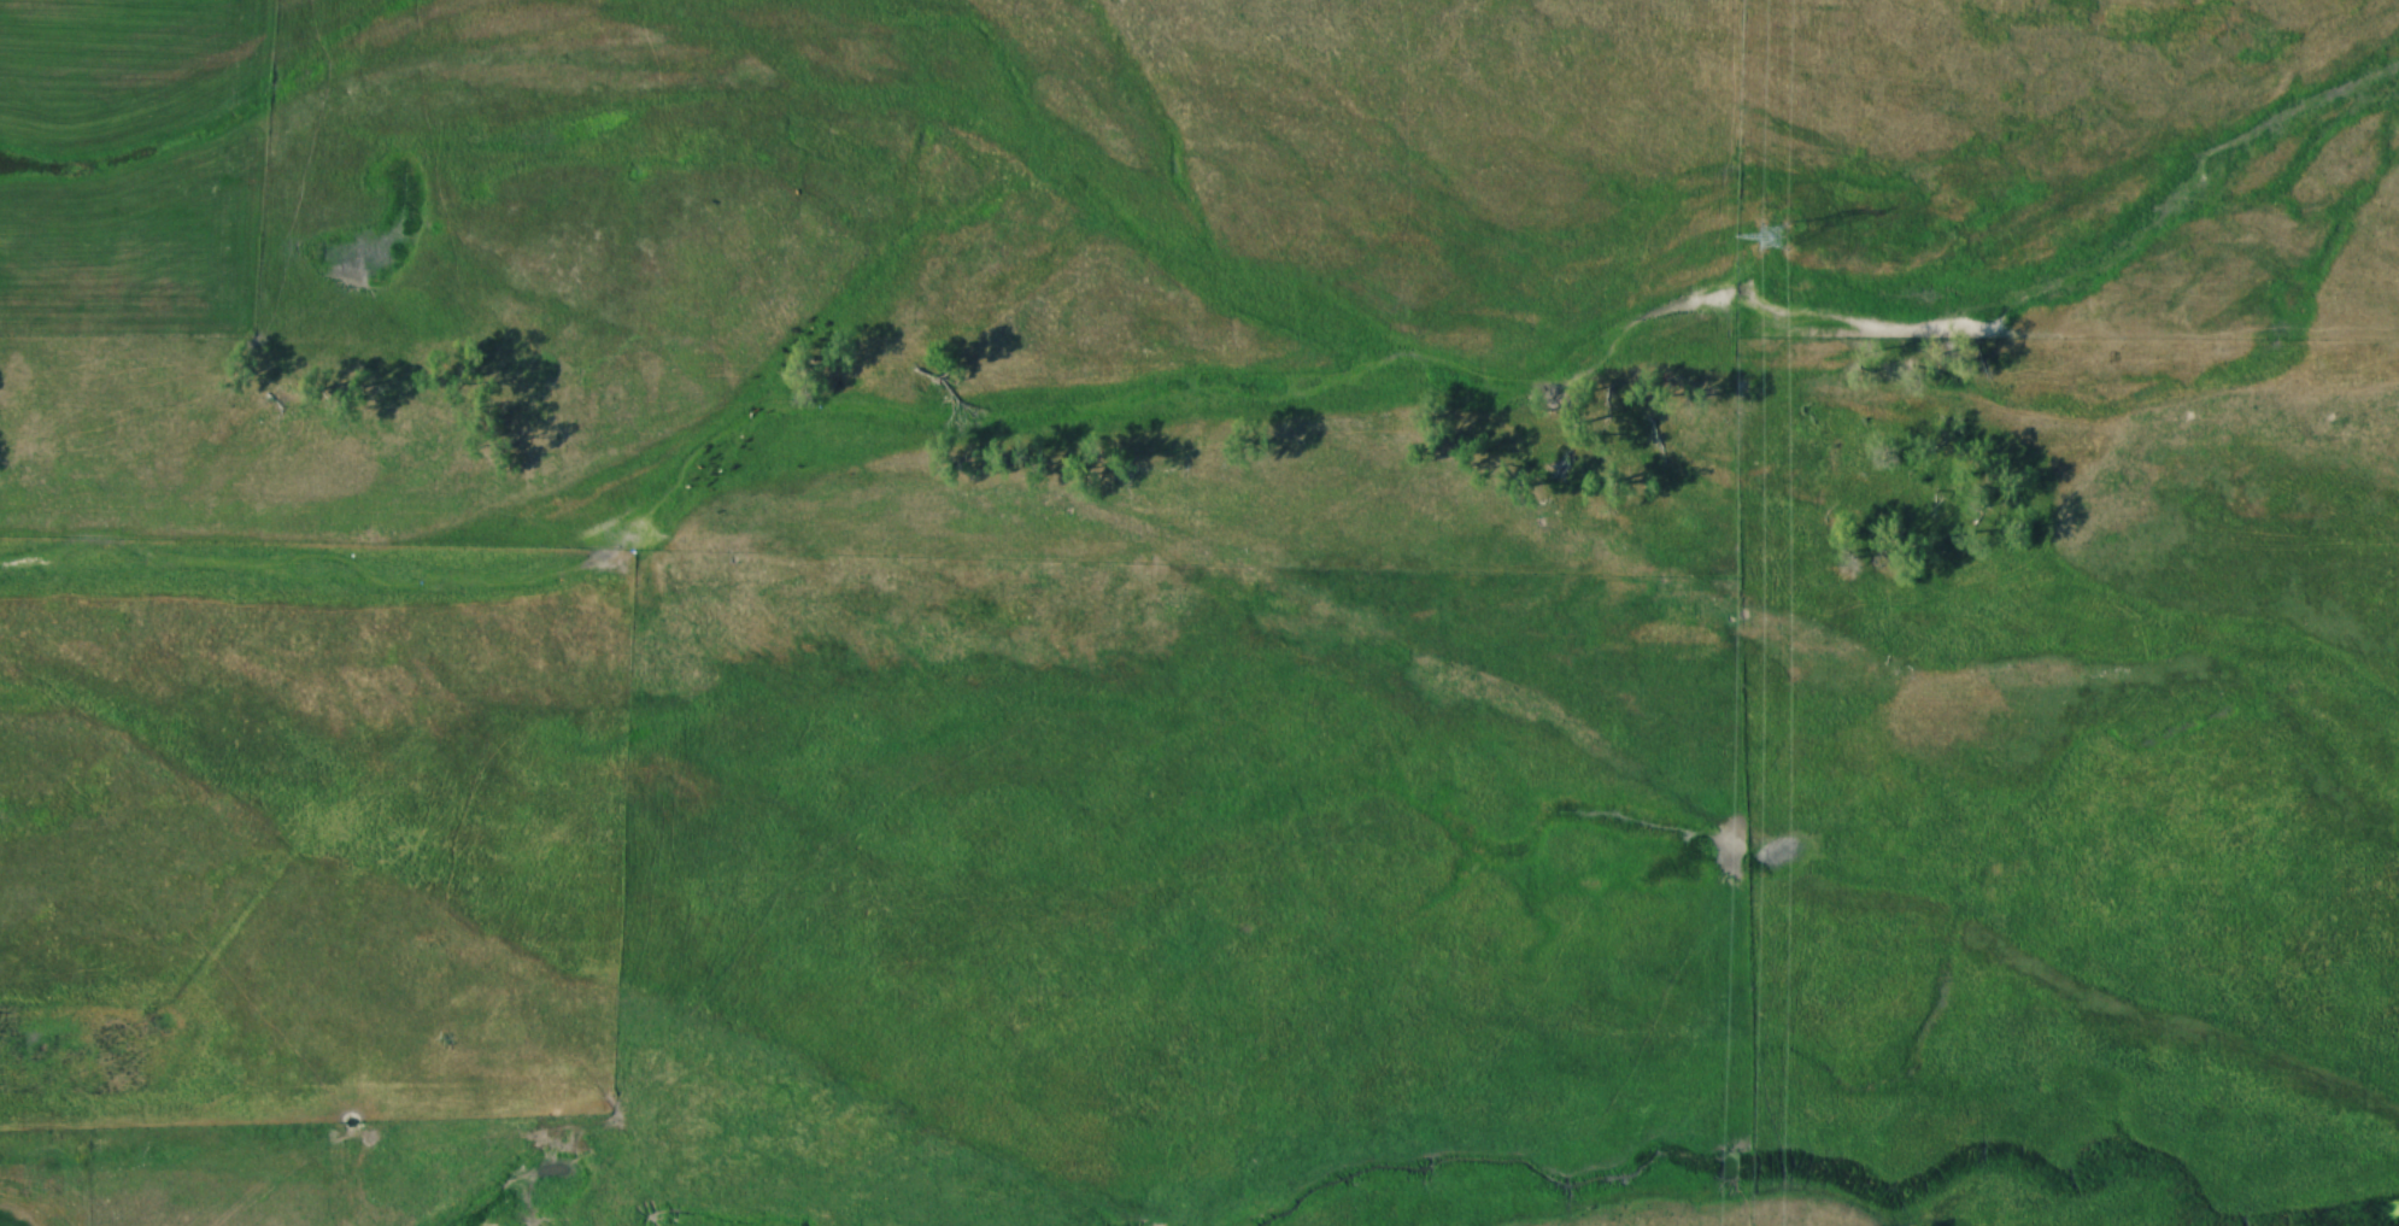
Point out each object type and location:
power tower: (1772, 237)

